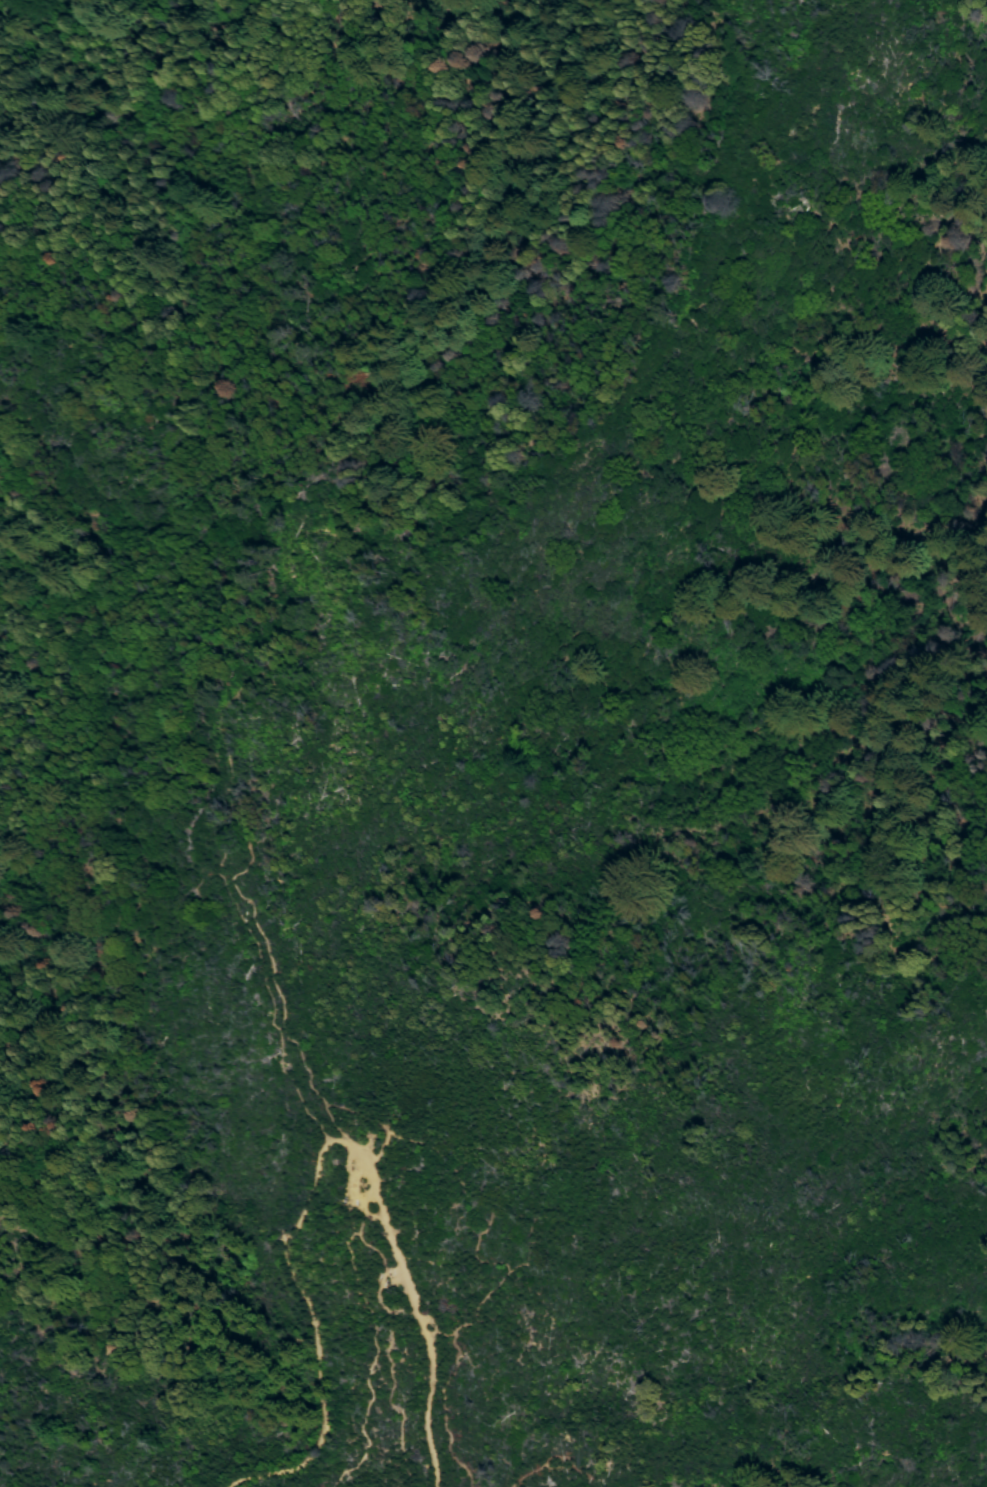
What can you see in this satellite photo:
road: (373, 1183)

